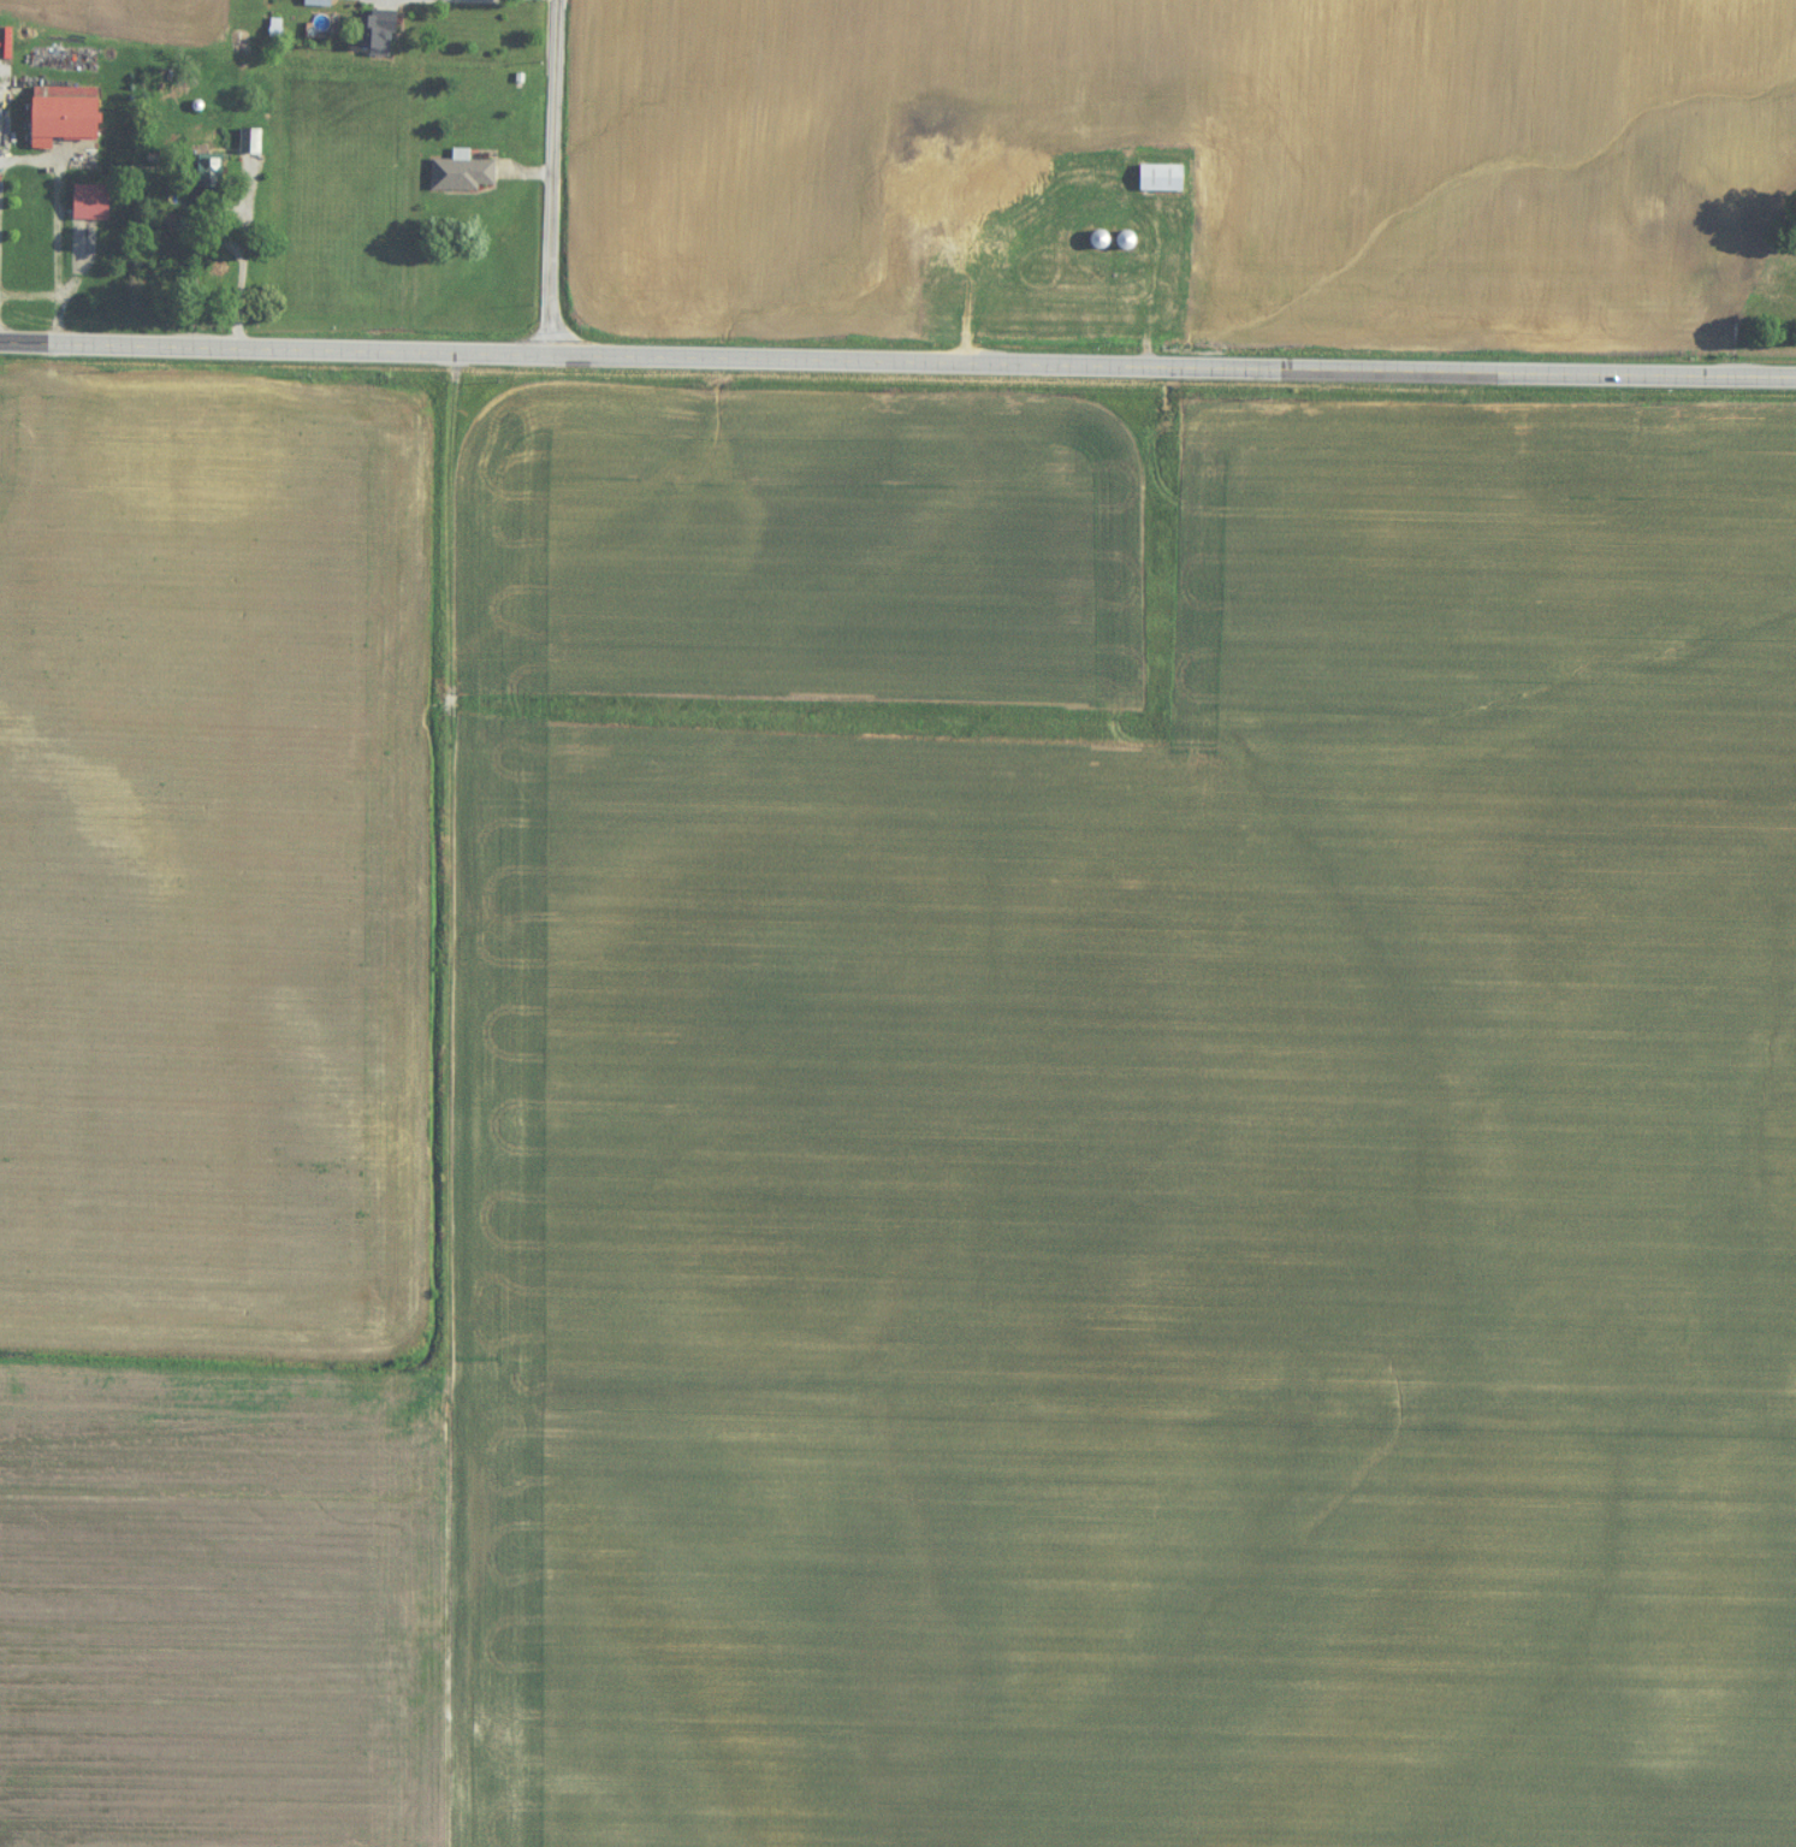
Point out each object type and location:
building: (318, 4)
road: (427, 8)
building: (379, 35)
building: (219, 101)
building: (64, 117)
building: (250, 142)
building: (211, 172)
building: (462, 174)
road: (553, 178)
building: (990, 179)
building: (1161, 179)
building: (91, 203)
building: (1126, 242)
building: (1101, 244)
road: (242, 260)
road: (58, 272)
road: (967, 294)
road: (897, 366)

